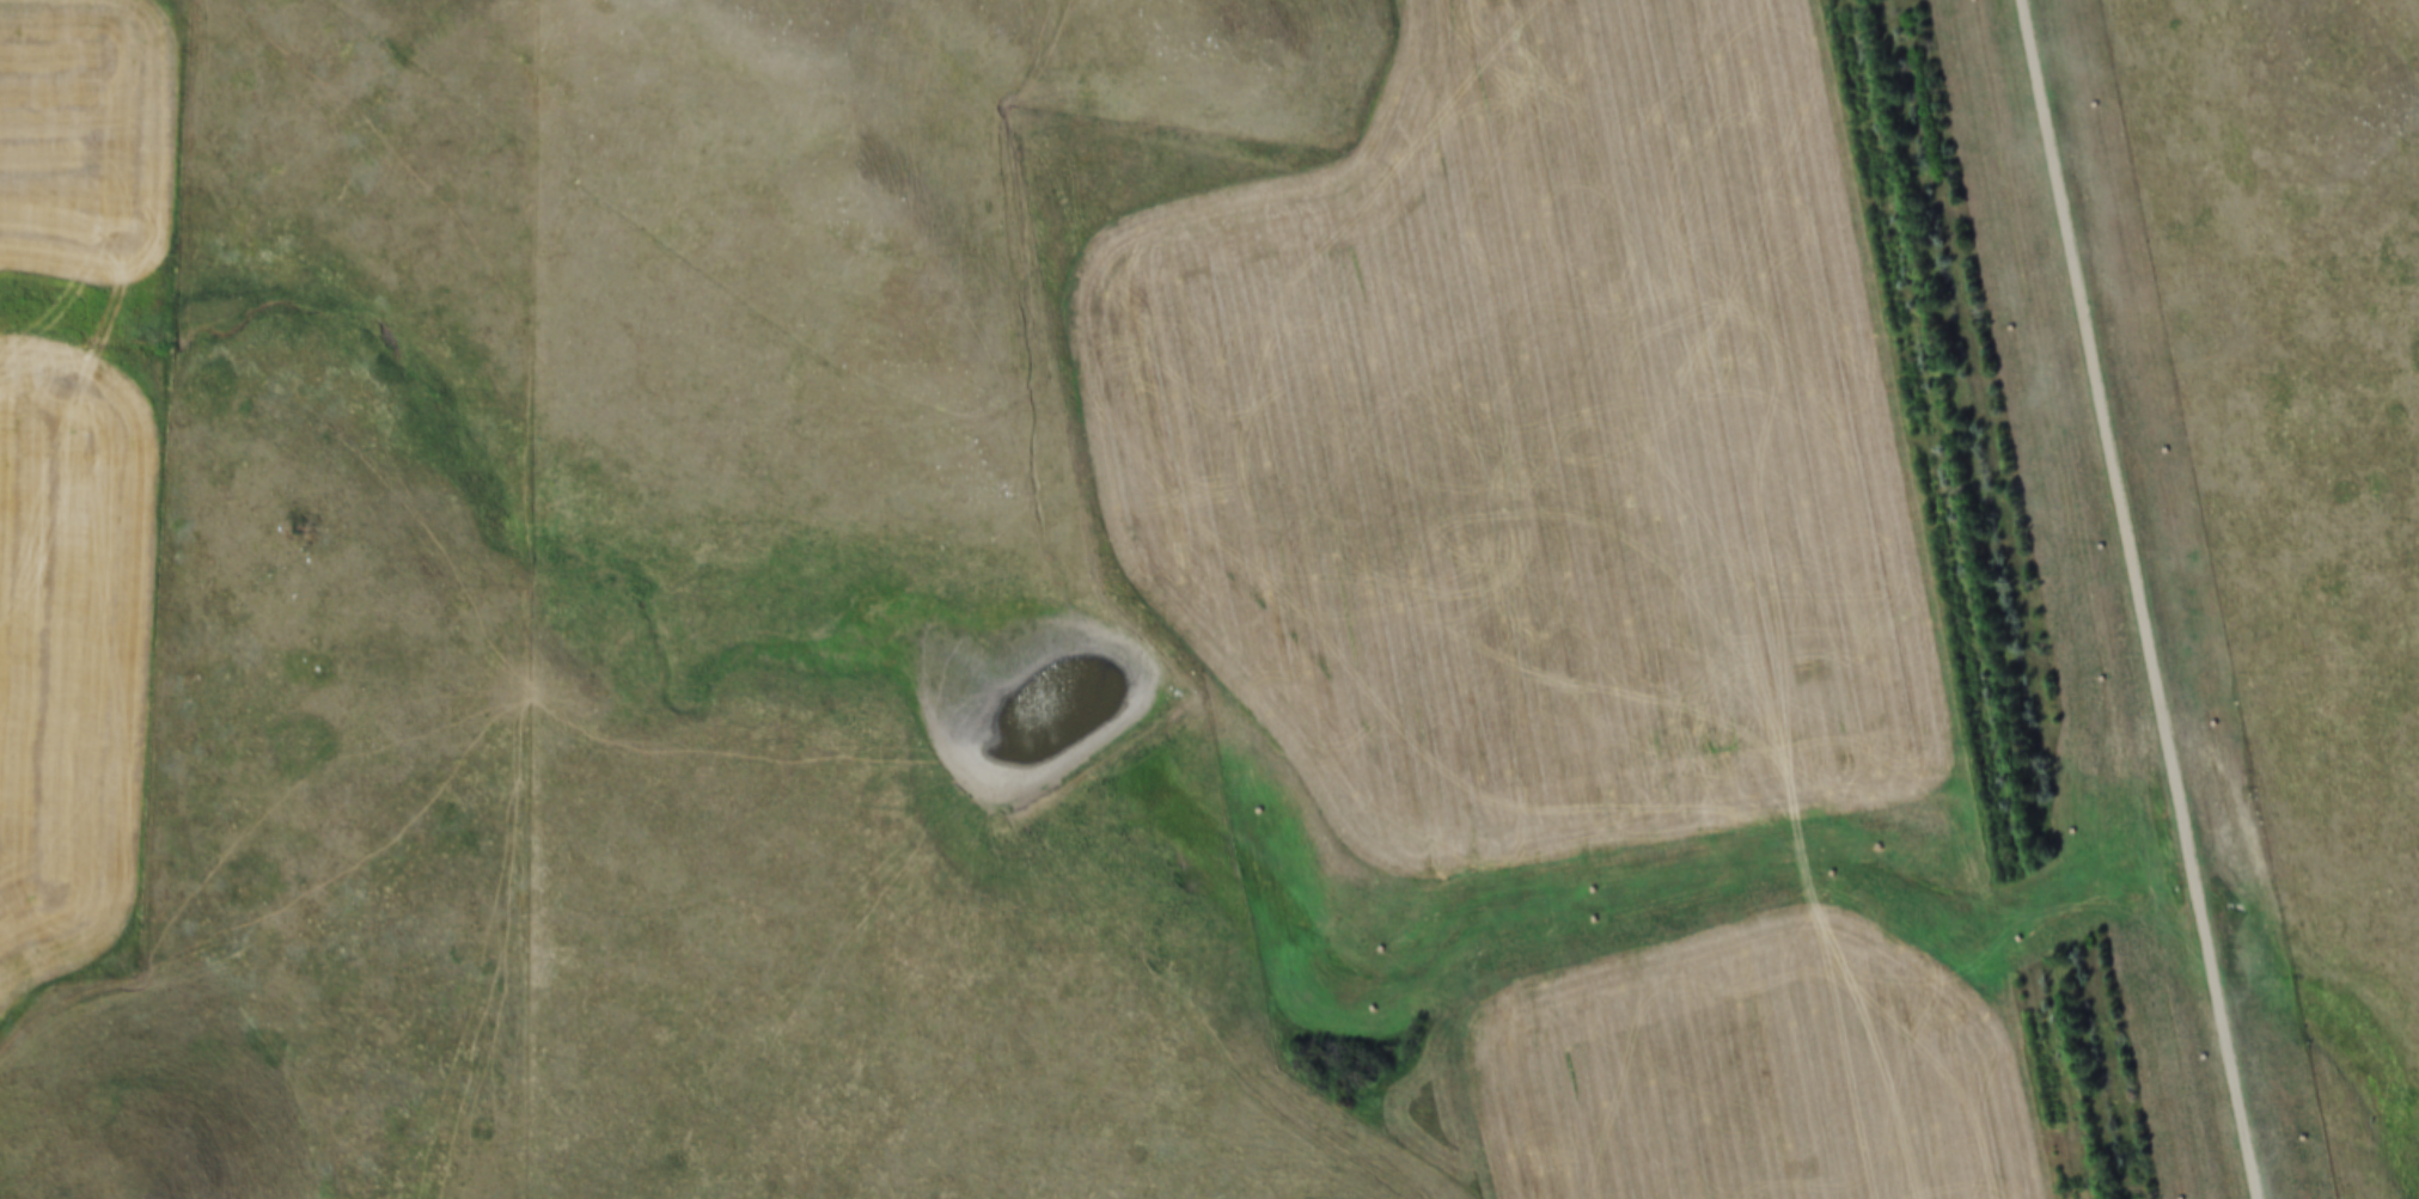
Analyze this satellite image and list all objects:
road: (2144, 599)
road: (69, 995)

